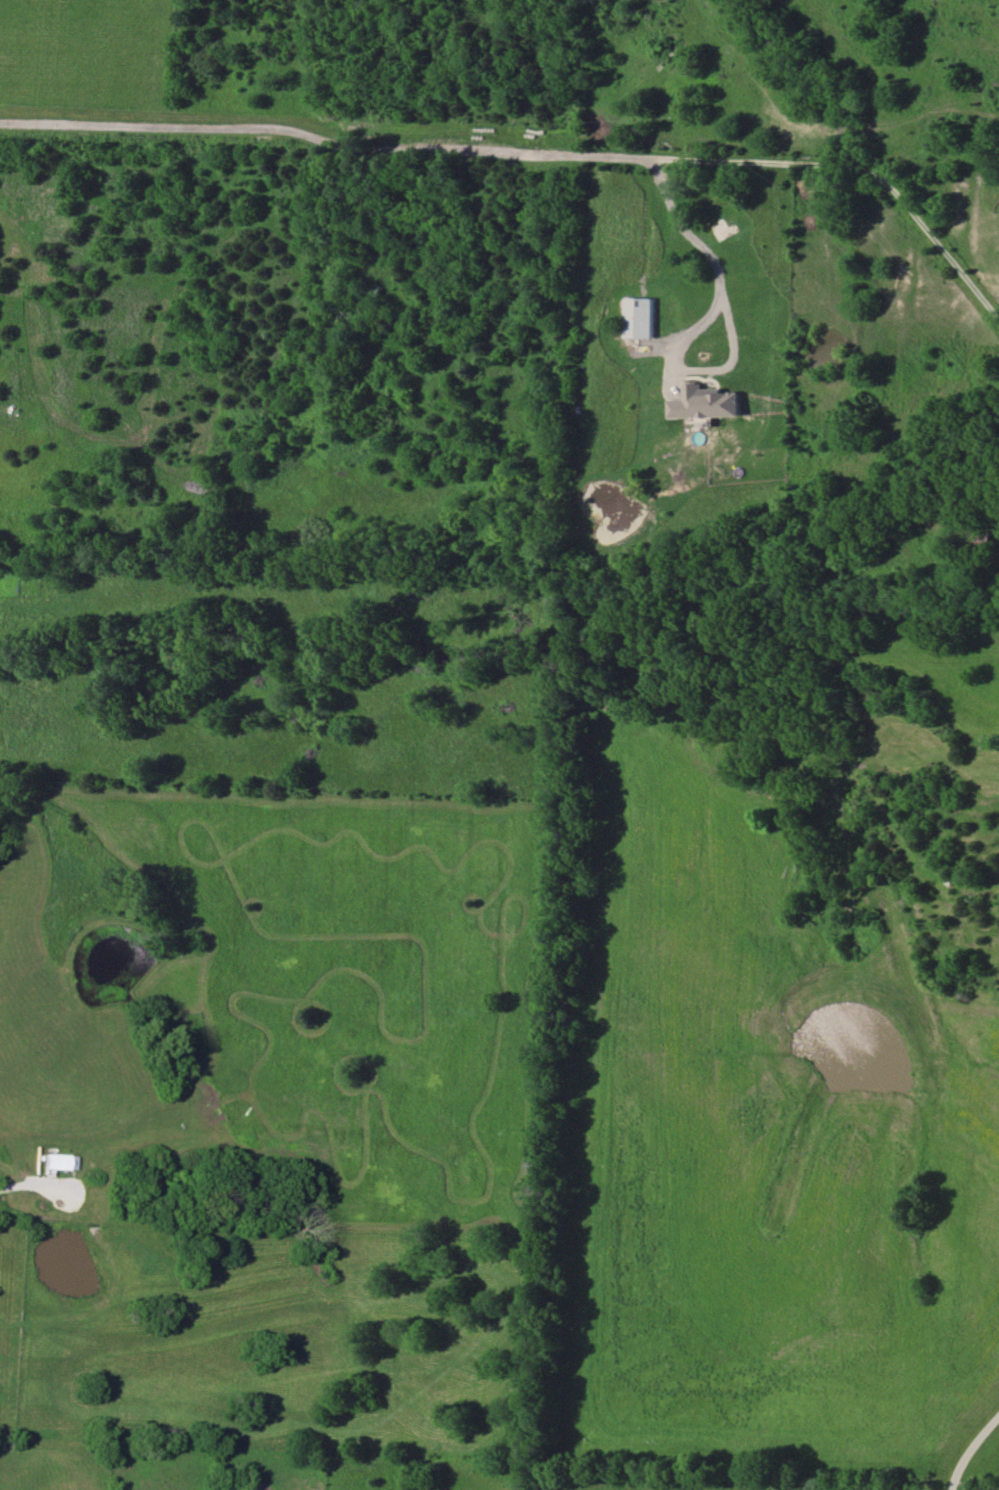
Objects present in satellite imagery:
road: (532, 147)
road: (710, 248)
building: (974, 540)
building: (55, 1162)
road: (34, 1184)
road: (970, 1451)

